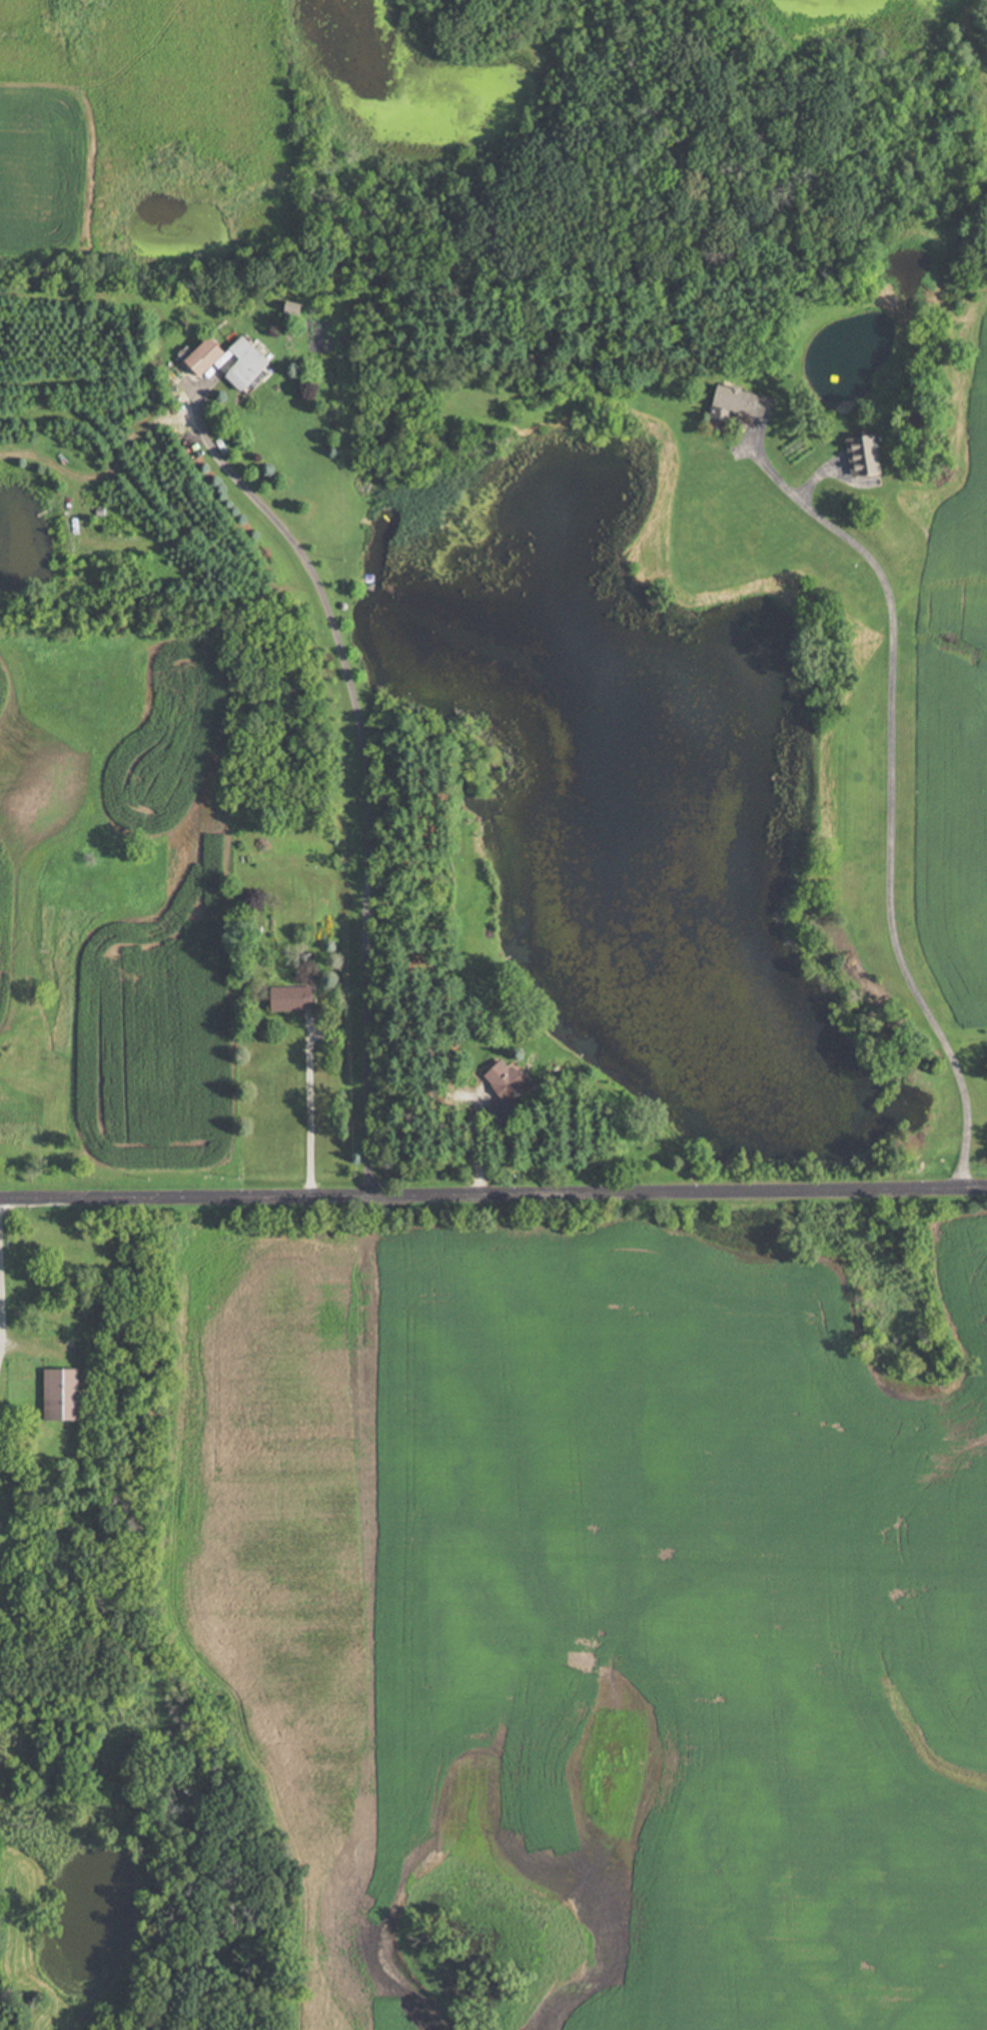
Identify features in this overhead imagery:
building: (215, 356)
building: (255, 365)
building: (743, 403)
building: (867, 456)
road: (364, 754)
road: (889, 825)
building: (296, 998)
road: (493, 1188)
road: (4, 1306)
building: (70, 1393)

